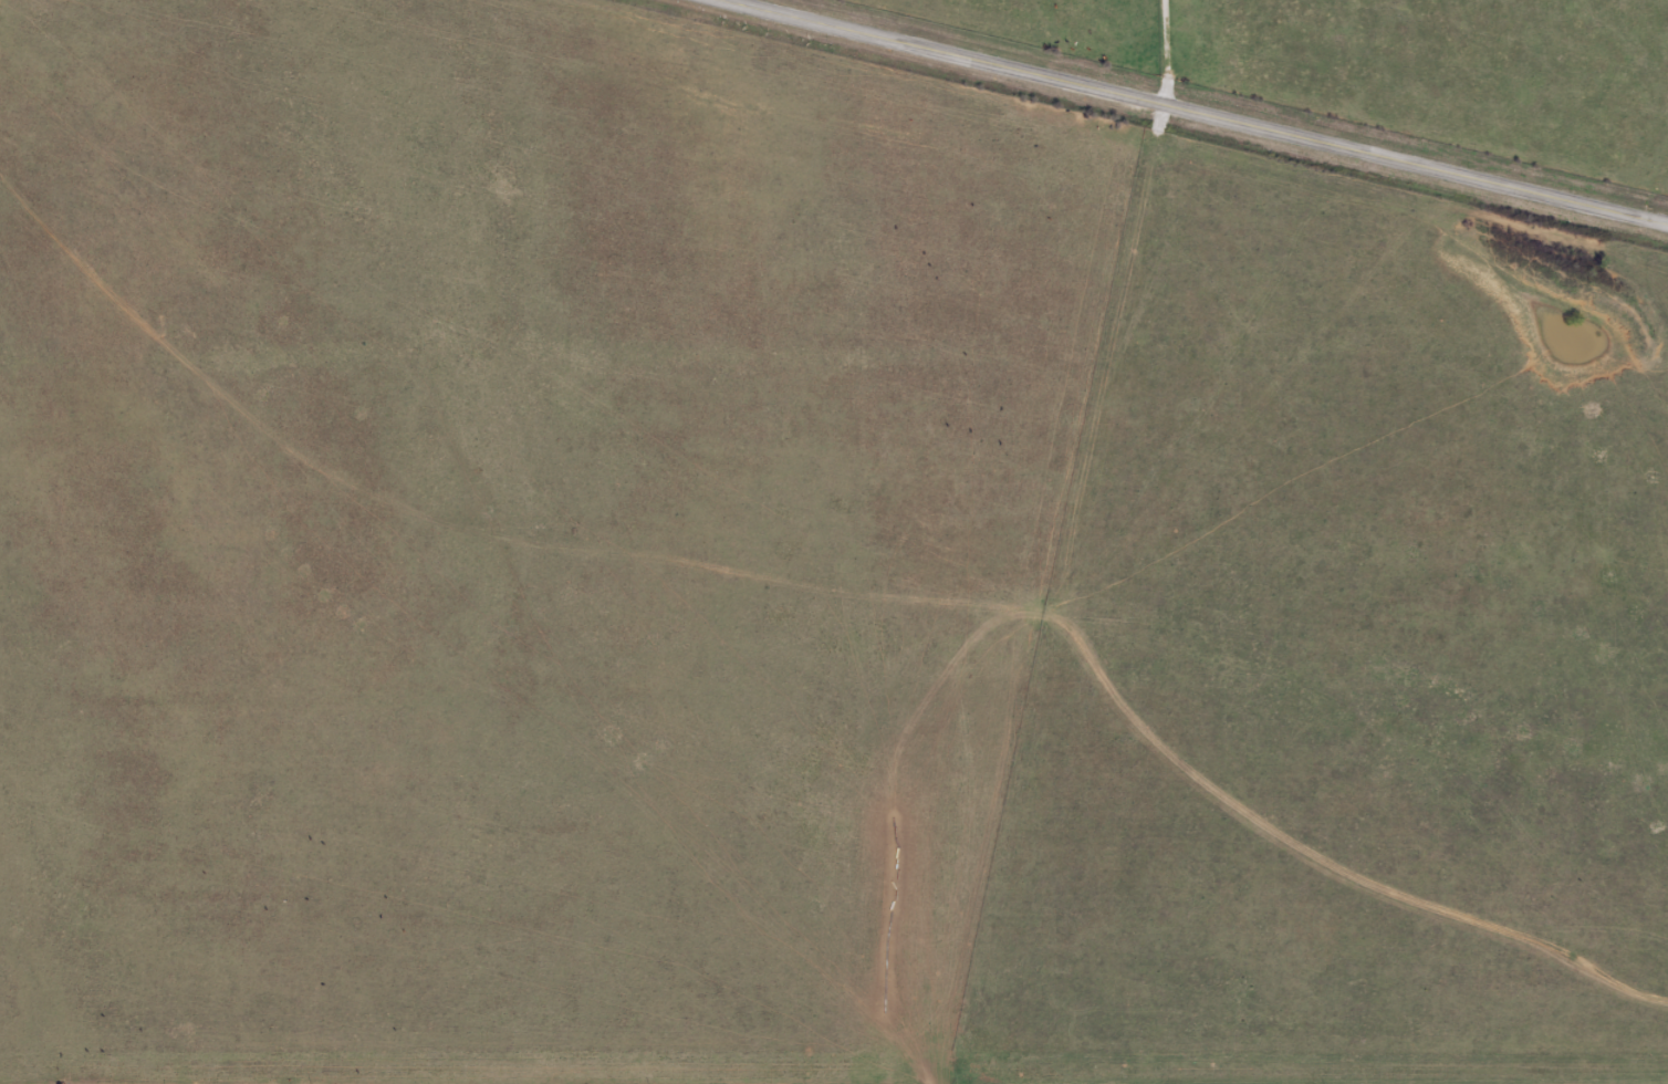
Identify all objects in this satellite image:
road: (1190, 113)

